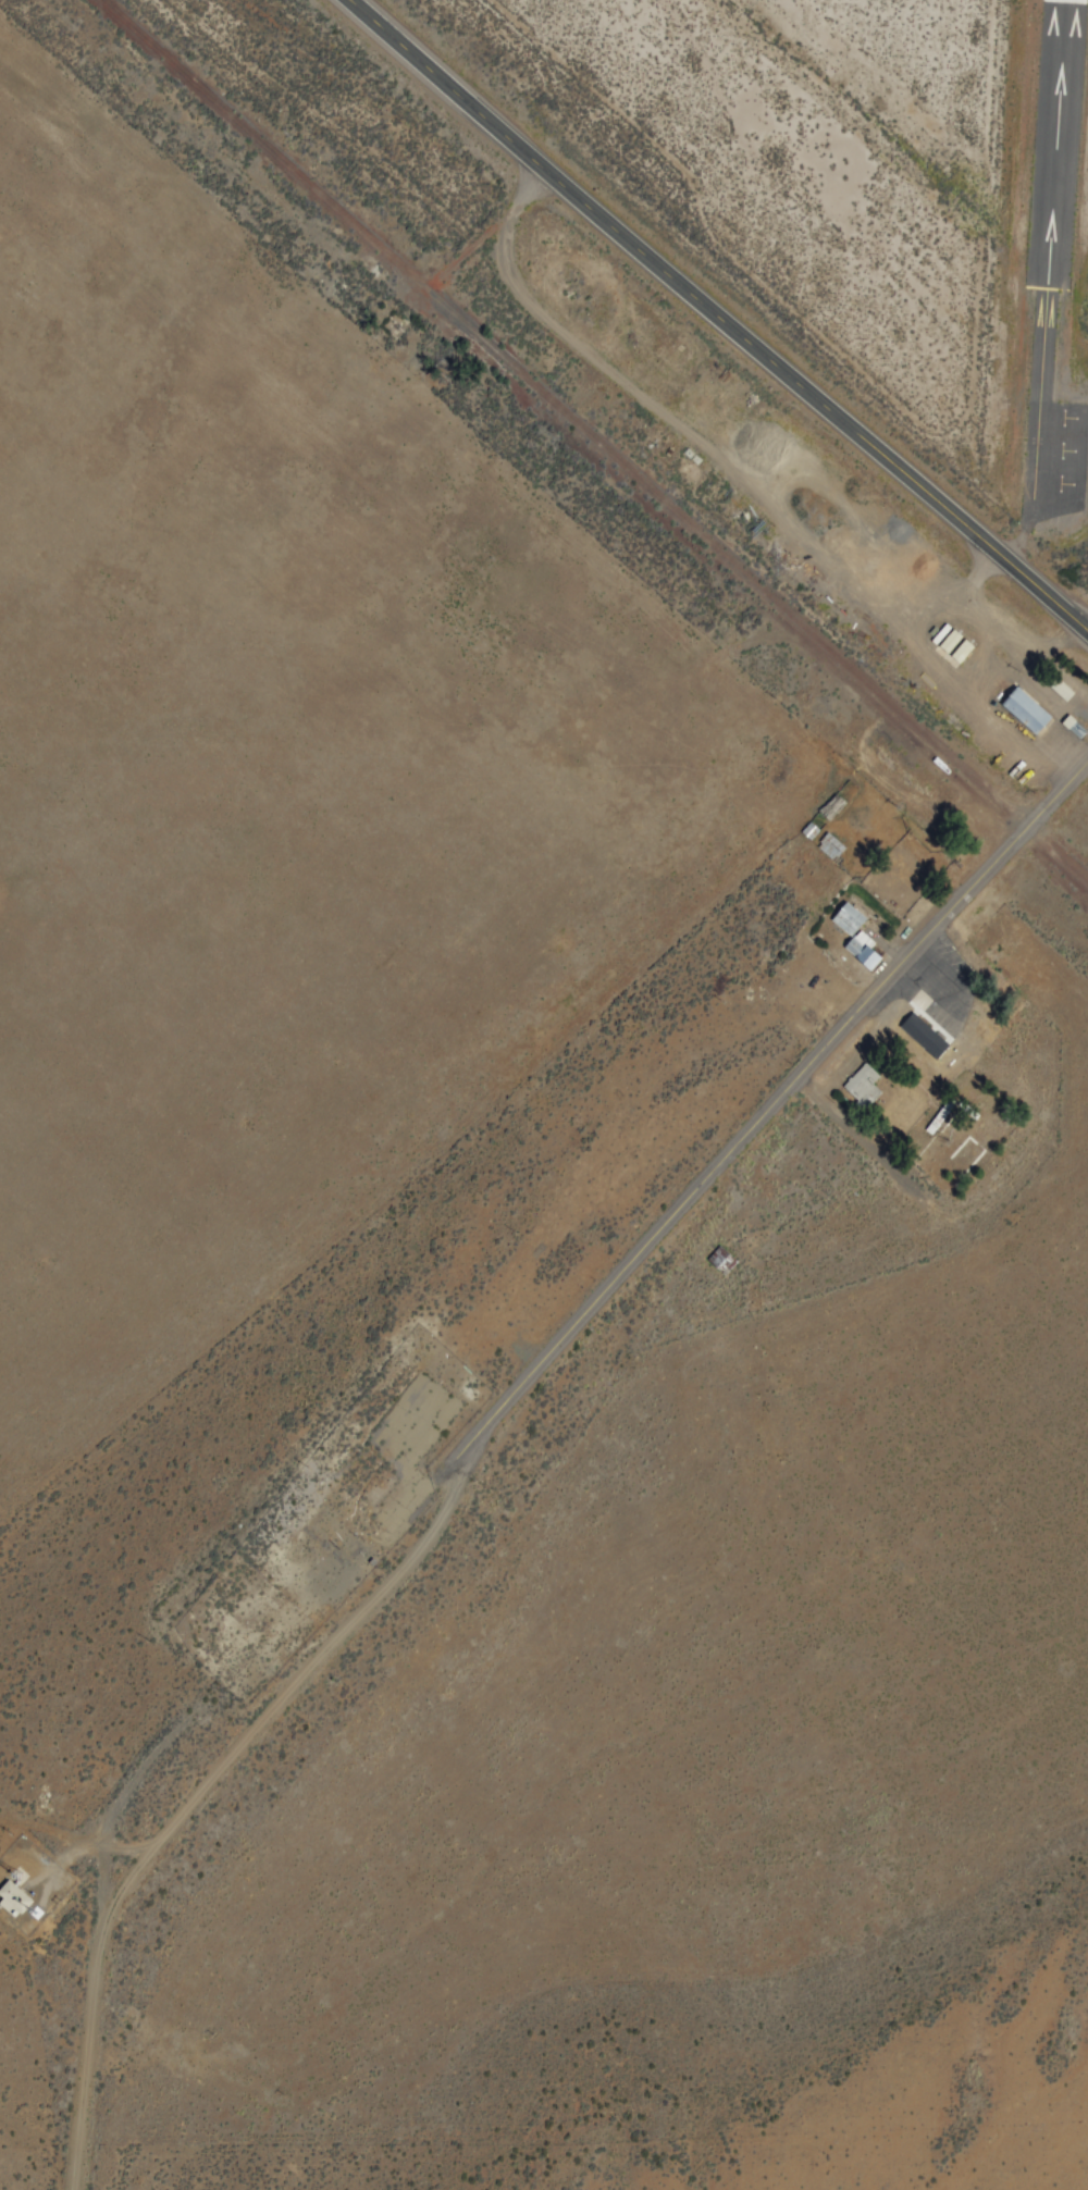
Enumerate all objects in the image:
airport runway: (1055, 263)
road: (718, 317)
airport apron: (1083, 485)
building: (959, 646)
building: (1062, 690)
building: (1035, 715)
building: (848, 919)
building: (863, 951)
building: (925, 1025)
building: (721, 1260)
road: (483, 1424)

